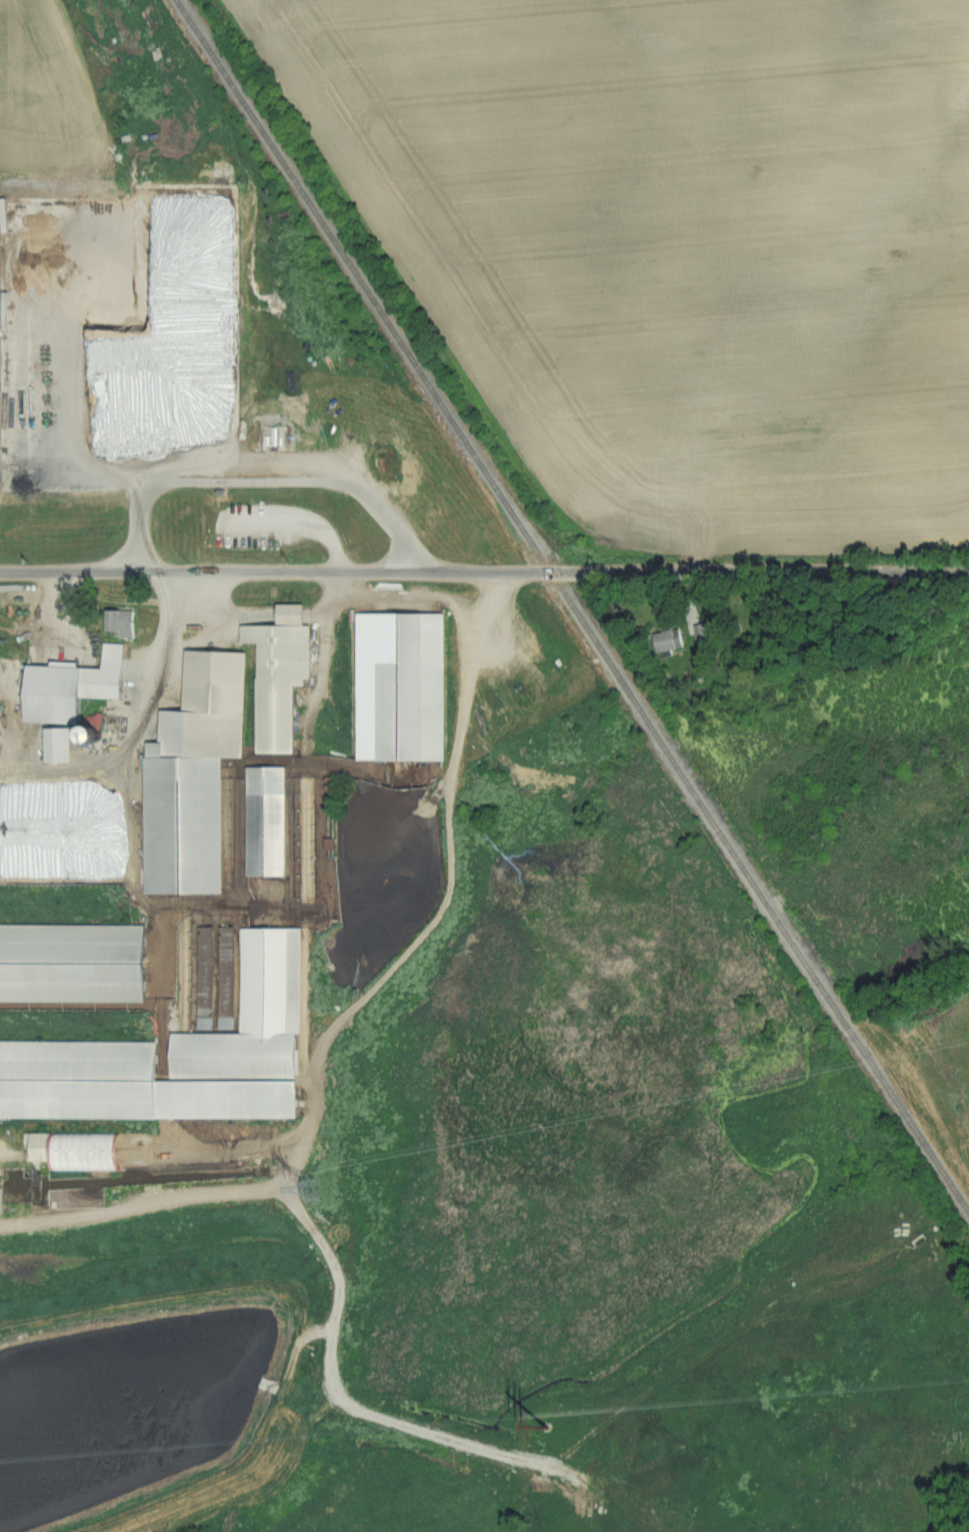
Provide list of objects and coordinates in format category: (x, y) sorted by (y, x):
road: (484, 574)
railway: (570, 611)
building: (126, 625)
building: (705, 631)
building: (672, 639)
building: (109, 673)
building: (284, 679)
building: (410, 682)
building: (213, 707)
road: (142, 715)
building: (63, 744)
building: (270, 820)
building: (187, 825)
building: (73, 963)
road: (350, 1012)
building: (253, 1020)
building: (81, 1079)
building: (237, 1100)
power tower: (312, 1188)
power tower: (546, 1428)

